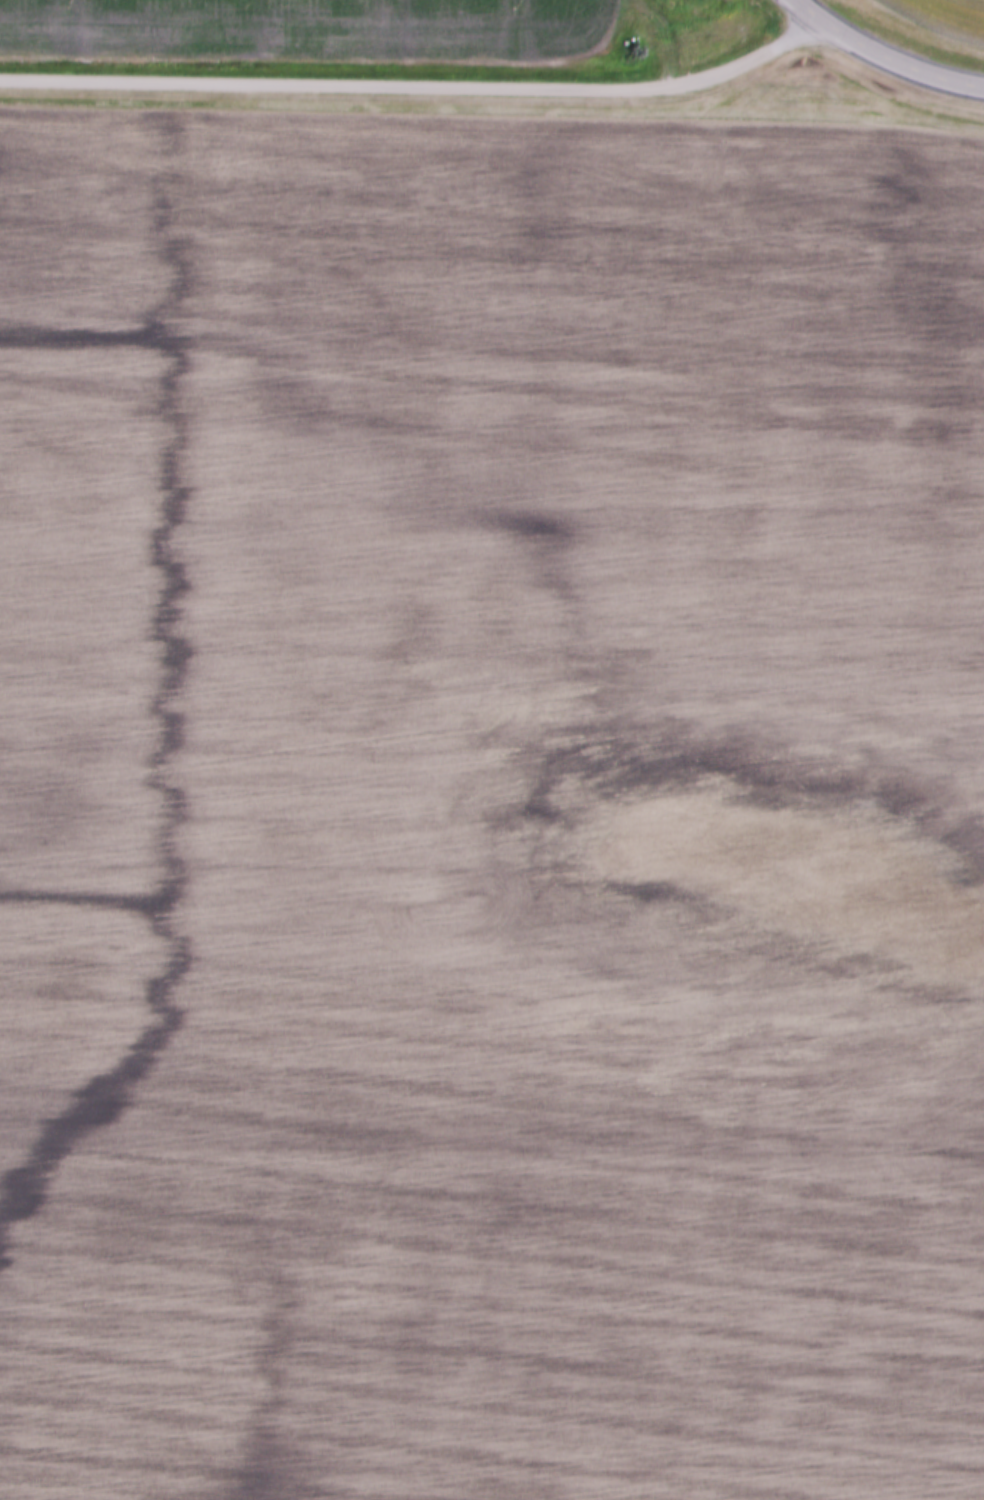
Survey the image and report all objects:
road: (807, 8)
crop: (942, 15)
crop: (312, 29)
road: (895, 63)
road: (417, 90)
crop: (477, 807)

